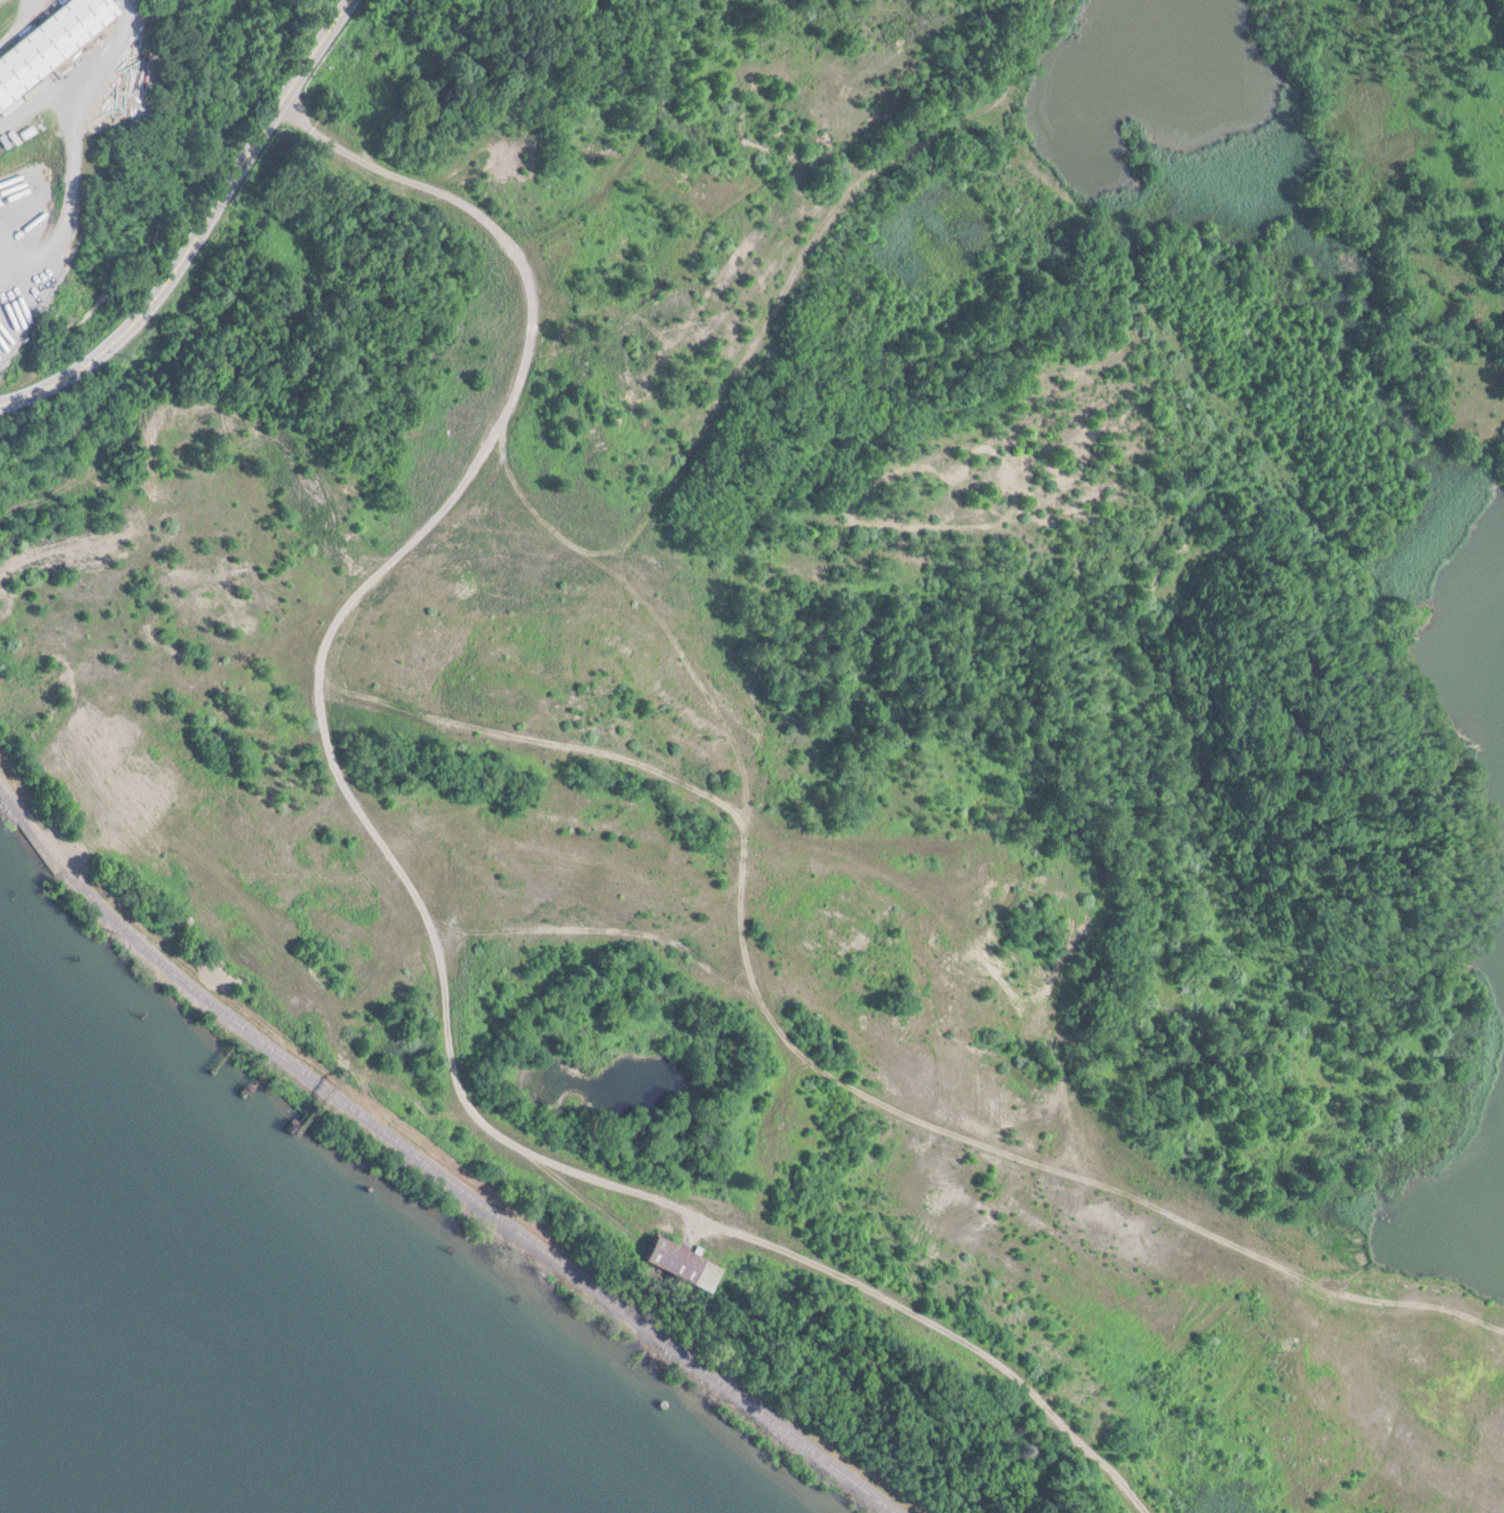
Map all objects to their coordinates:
road: (999, 18)
road: (1492, 24)
building: (42, 34)
road: (643, 129)
road: (77, 153)
road: (201, 229)
road: (1144, 293)
road: (731, 373)
road: (414, 894)
road: (603, 926)
road: (823, 1064)
railway: (431, 1166)
building: (658, 1261)
river: (89, 1440)

